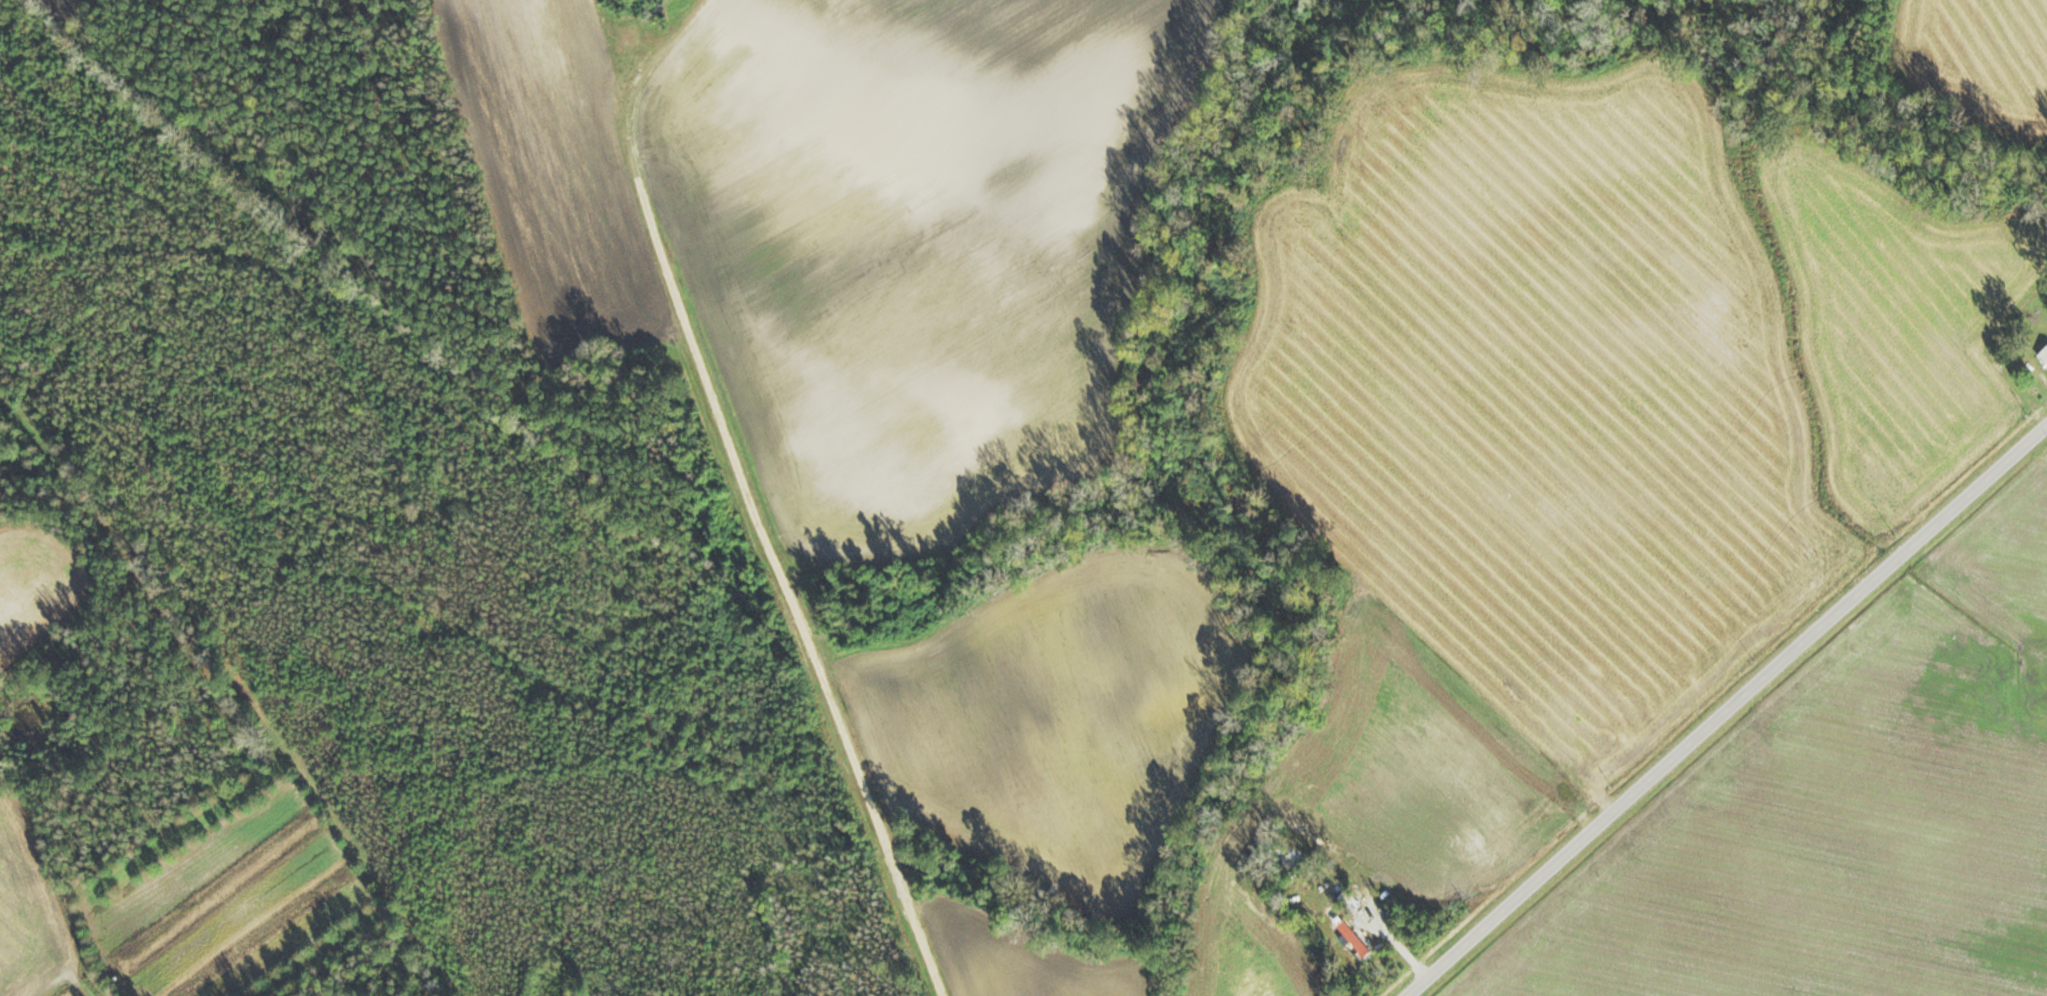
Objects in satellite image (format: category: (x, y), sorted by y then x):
building: (2043, 354)
road: (2032, 360)
road: (809, 624)
road: (1724, 707)
building: (1351, 898)

